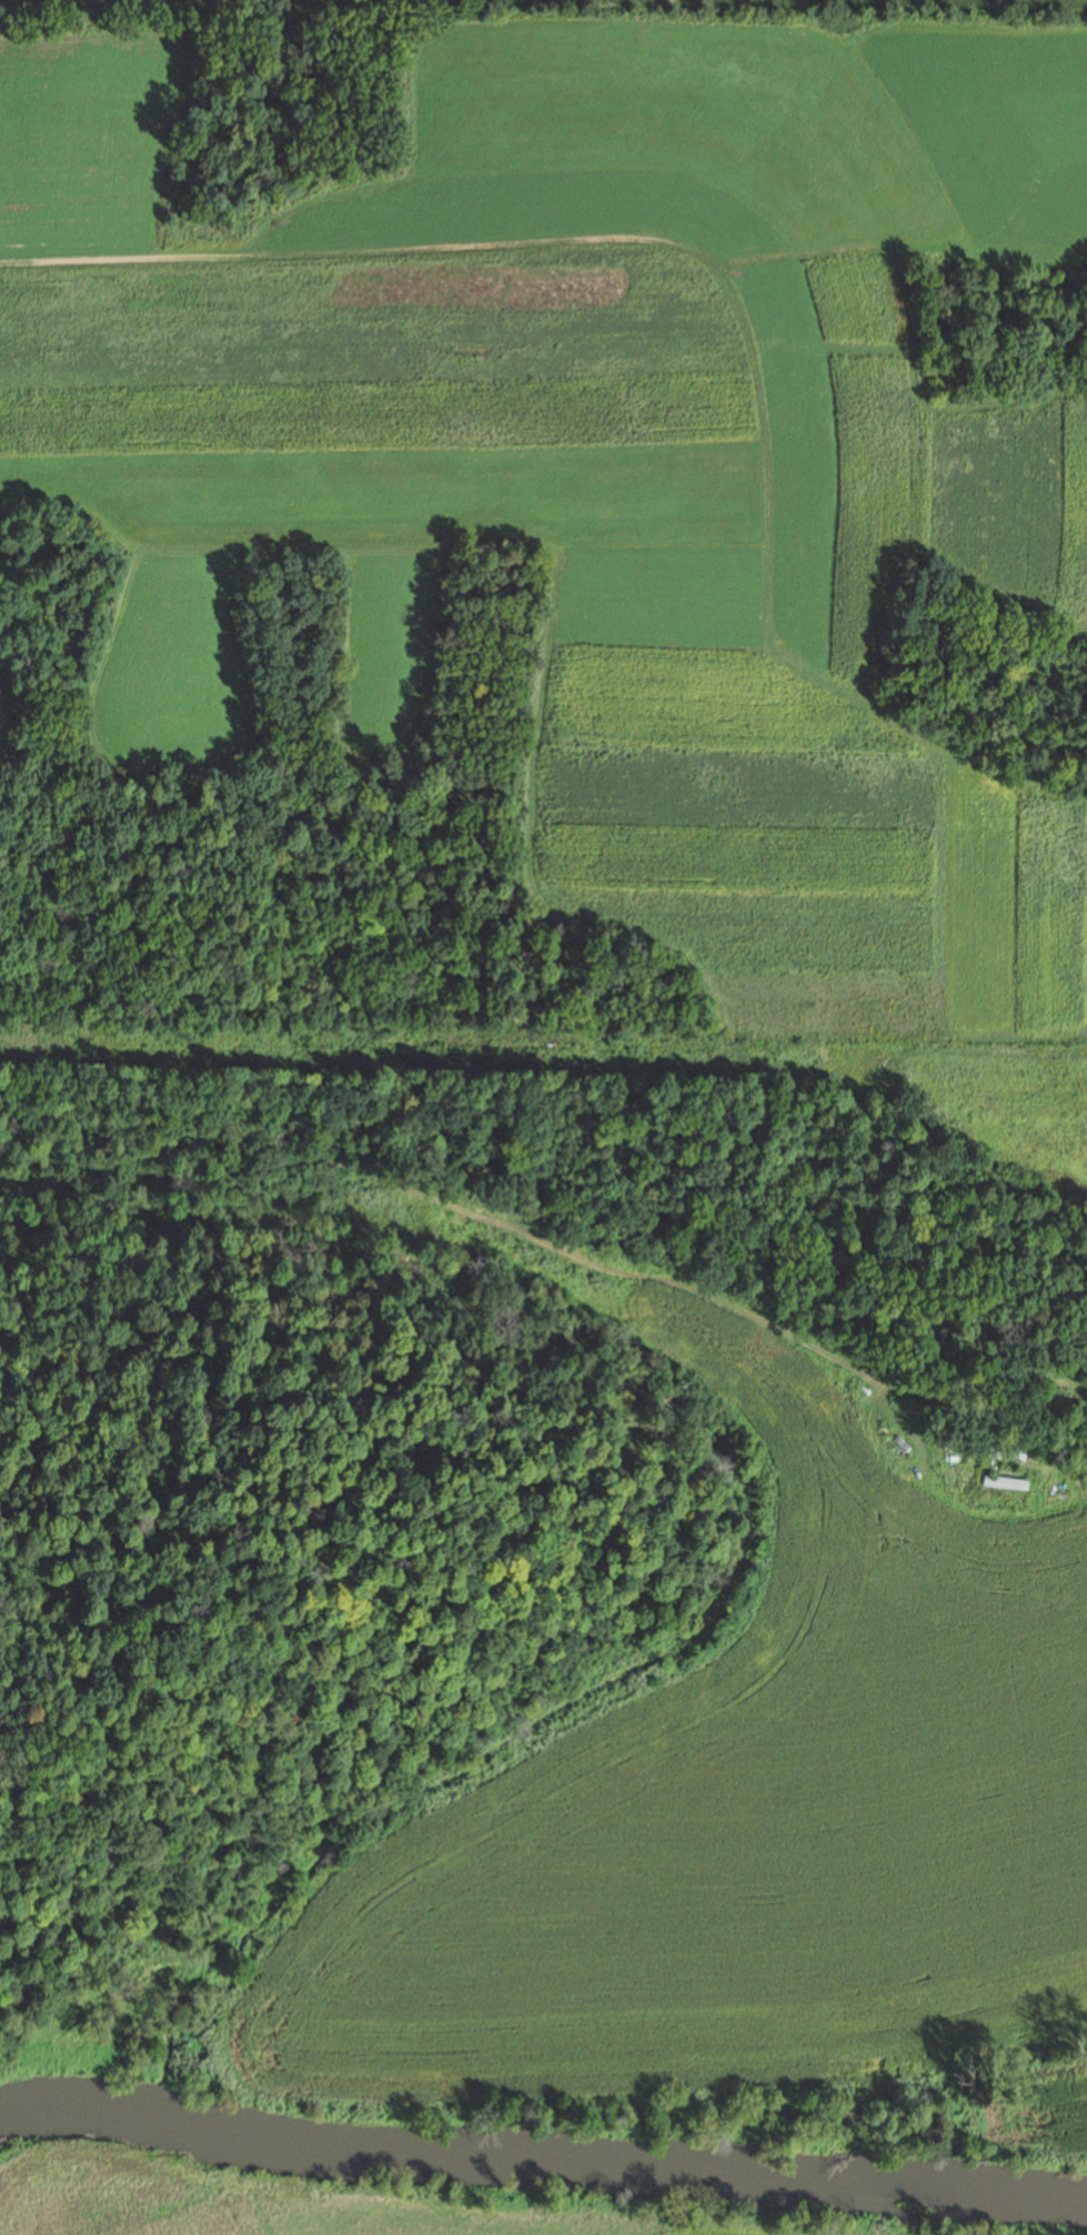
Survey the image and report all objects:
building: (1005, 1483)
river: (540, 2162)

